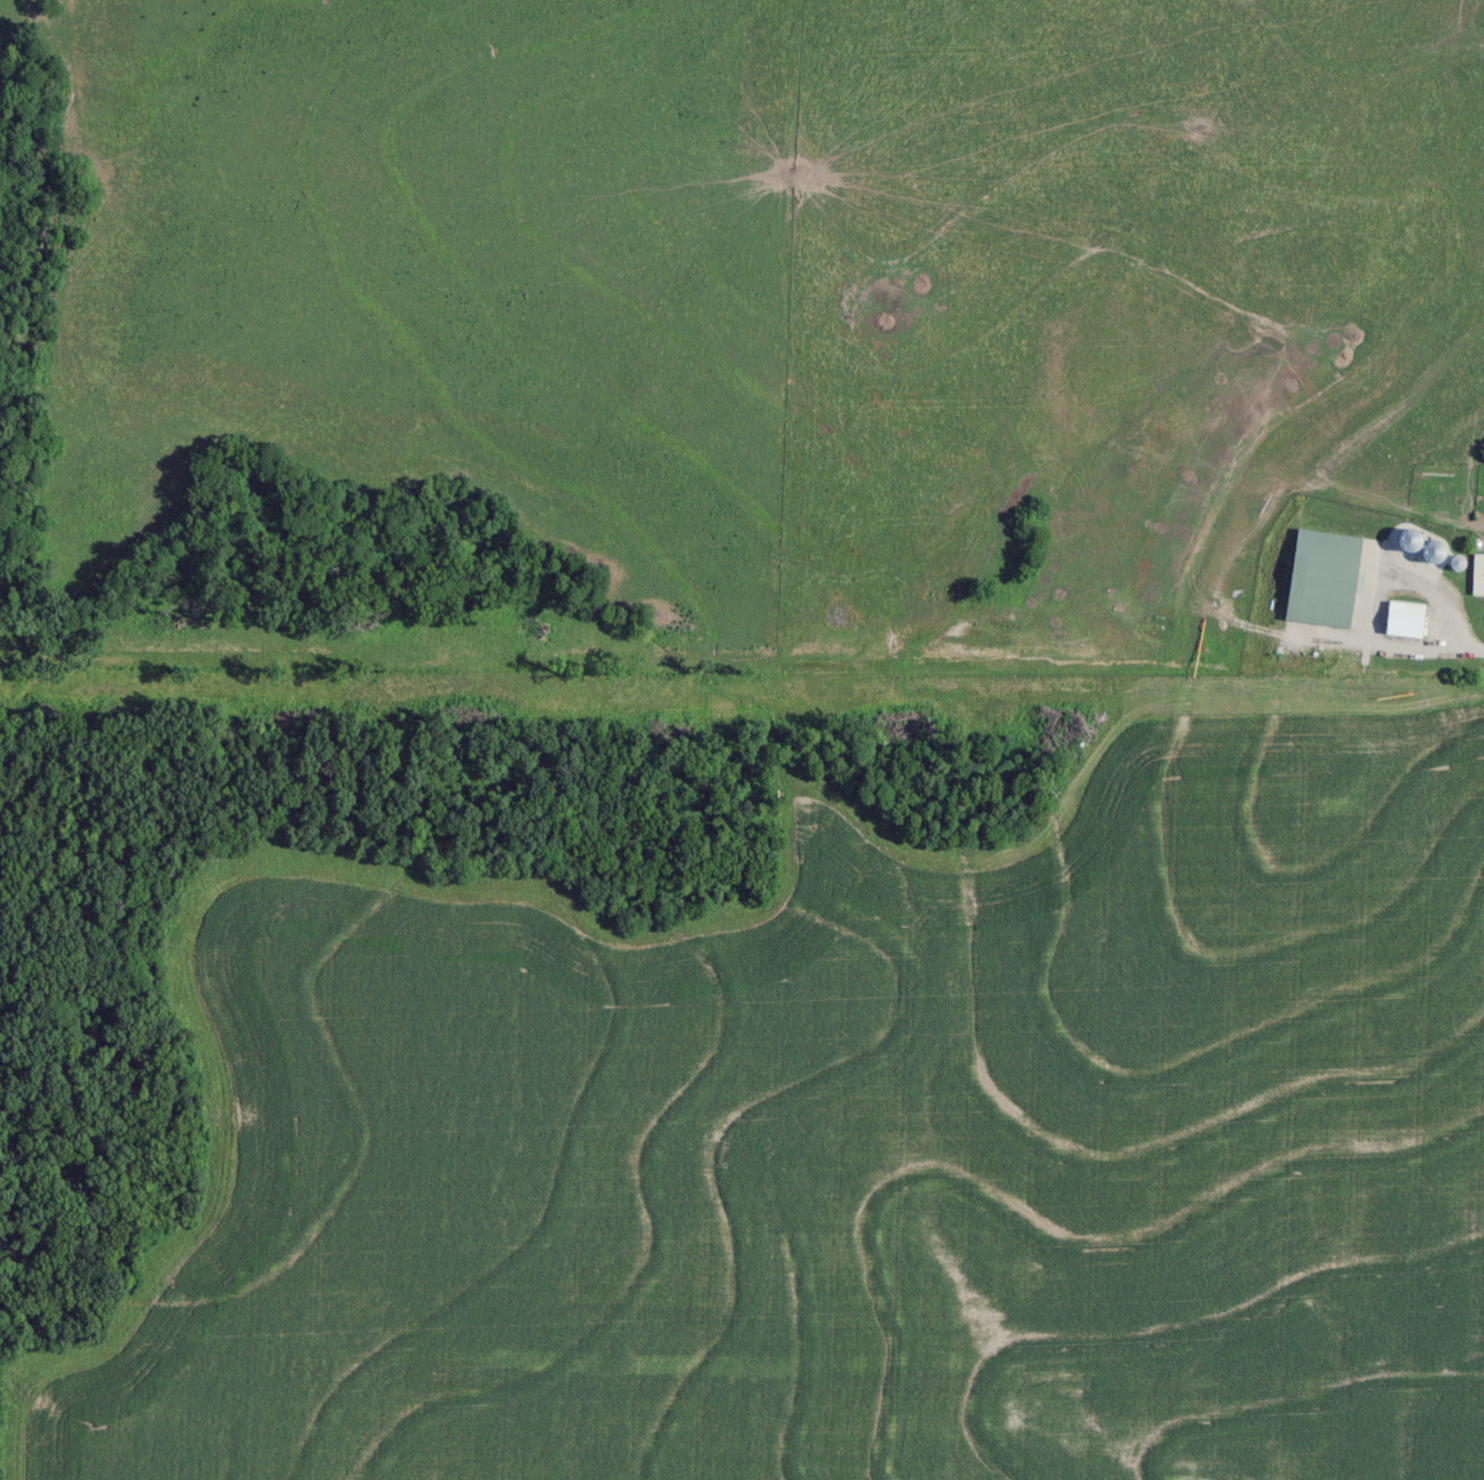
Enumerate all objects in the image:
building: (1311, 551)
building: (1479, 574)
road: (1376, 599)
building: (1321, 610)
building: (1409, 618)
road: (1476, 647)

